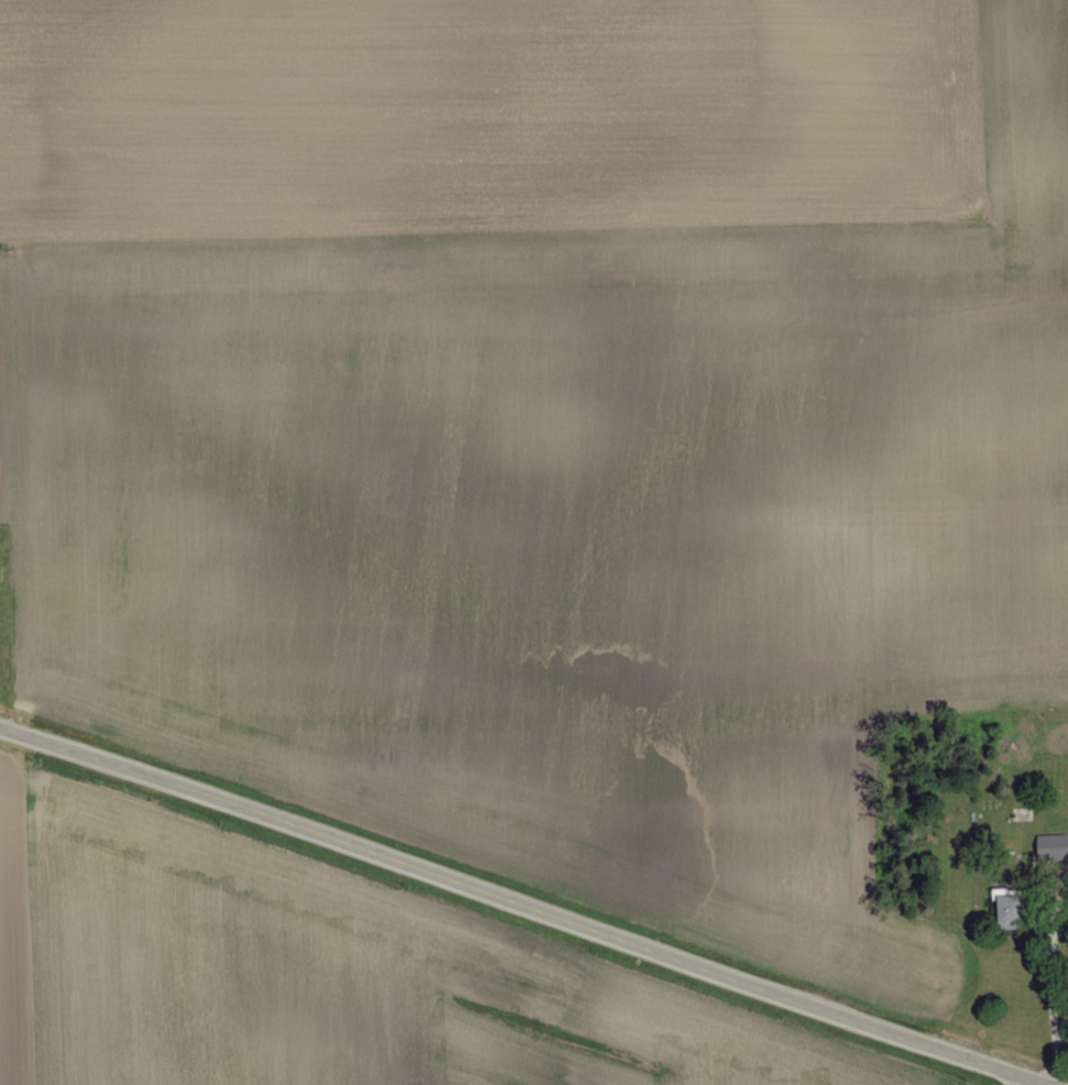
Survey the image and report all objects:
crop: (546, 423)
building: (1054, 850)
road: (524, 905)
crop: (323, 973)
road: (1021, 1081)

